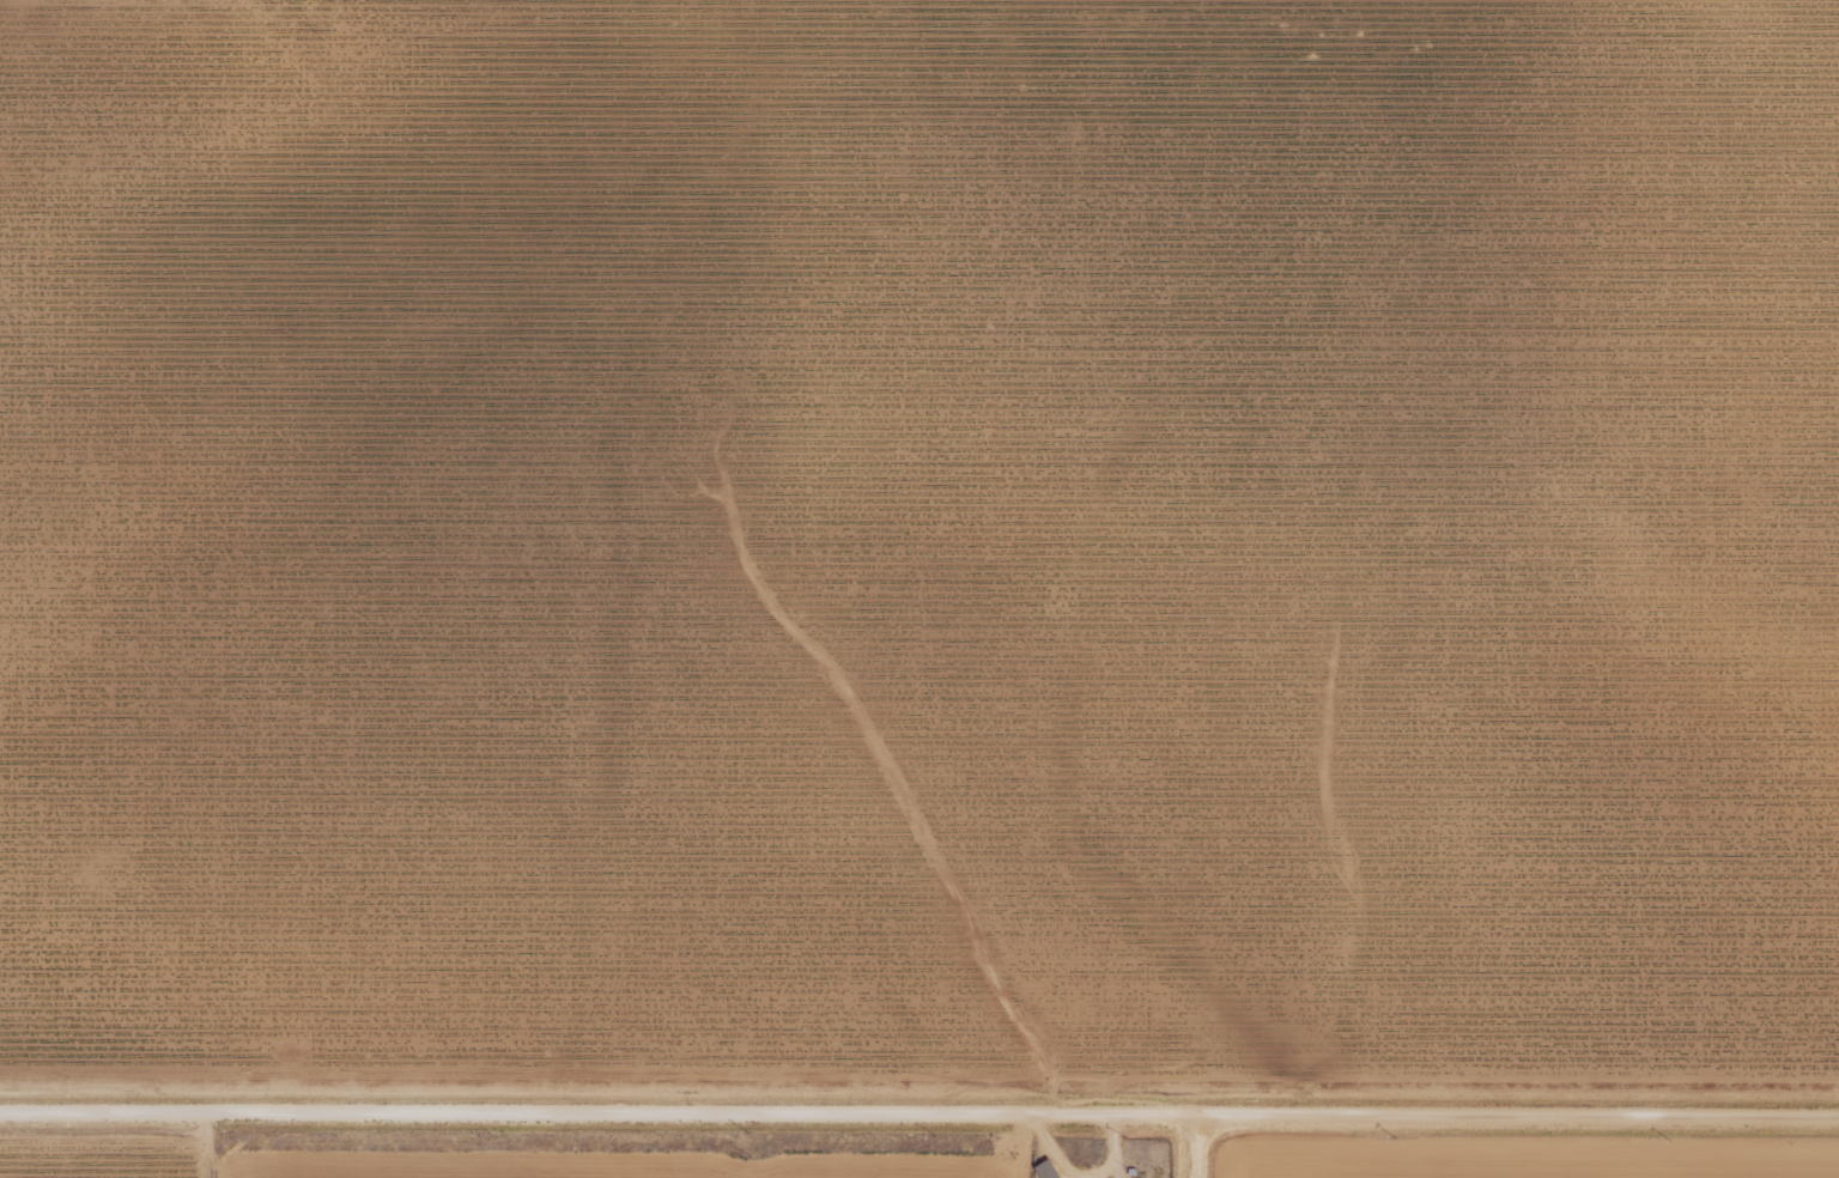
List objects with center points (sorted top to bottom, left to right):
road: (918, 1116)
road: (1191, 1148)

